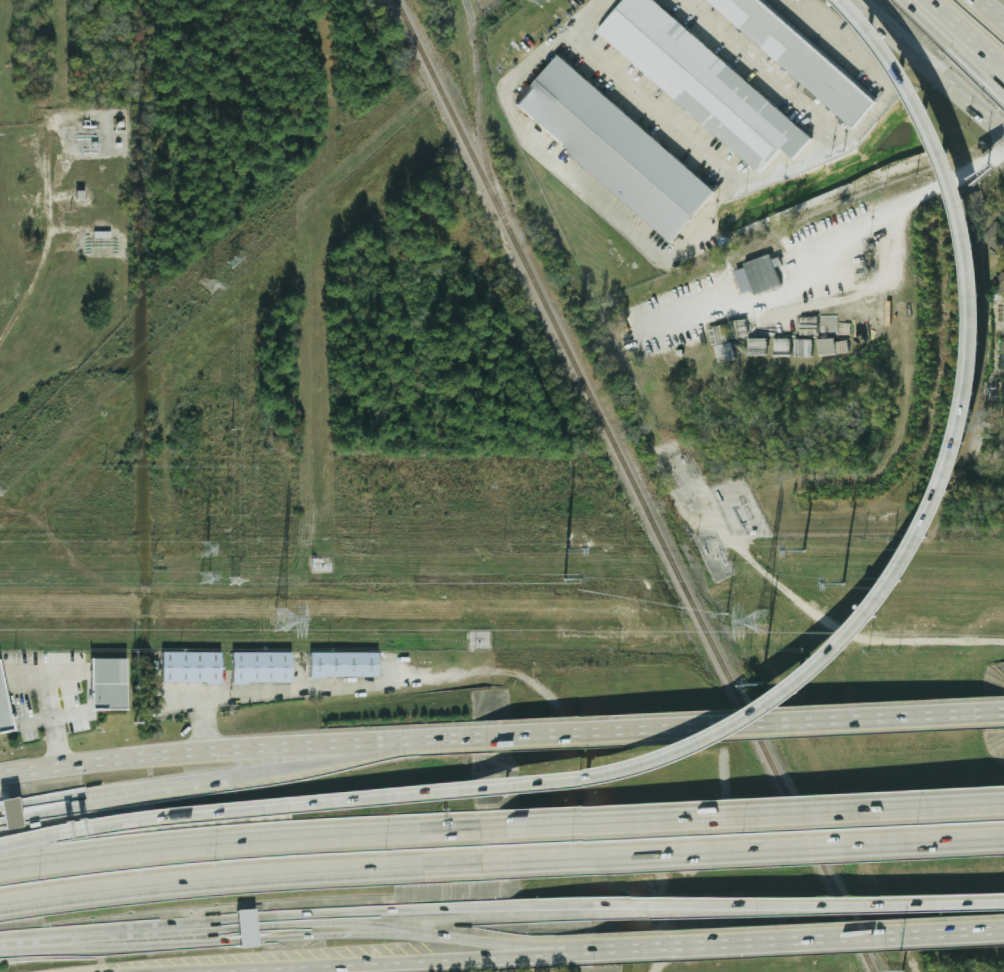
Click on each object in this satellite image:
road: (990, 11)
road: (900, 31)
road: (965, 33)
road: (952, 50)
building: (794, 55)
road: (929, 66)
road: (765, 71)
building: (698, 81)
railway: (476, 104)
road: (655, 110)
building: (616, 146)
road: (952, 177)
road: (56, 236)
power plant: (165, 237)
road: (686, 246)
road: (841, 247)
power tower: (235, 262)
building: (759, 275)
power tower: (210, 289)
railway: (634, 486)
power tower: (204, 549)
power tower: (205, 577)
power tower: (235, 582)
road: (881, 597)
power tower: (280, 621)
power tower: (762, 623)
building: (347, 665)
building: (264, 667)
building: (194, 668)
building: (110, 684)
road: (269, 689)
building: (6, 704)
road: (49, 714)
road: (738, 723)
road: (235, 740)
road: (314, 759)
road: (107, 788)
road: (107, 800)
toll booth: (9, 804)
building: (16, 814)
road: (750, 815)
road: (141, 820)
road: (247, 843)
road: (752, 852)
road: (249, 877)
road: (790, 905)
road: (304, 911)
road: (236, 926)
building: (253, 929)
road: (17, 938)
road: (791, 939)
road: (264, 943)
toll booth: (249, 944)
road: (554, 950)
road: (365, 960)
road: (668, 966)
road: (299, 968)
road: (195, 971)

